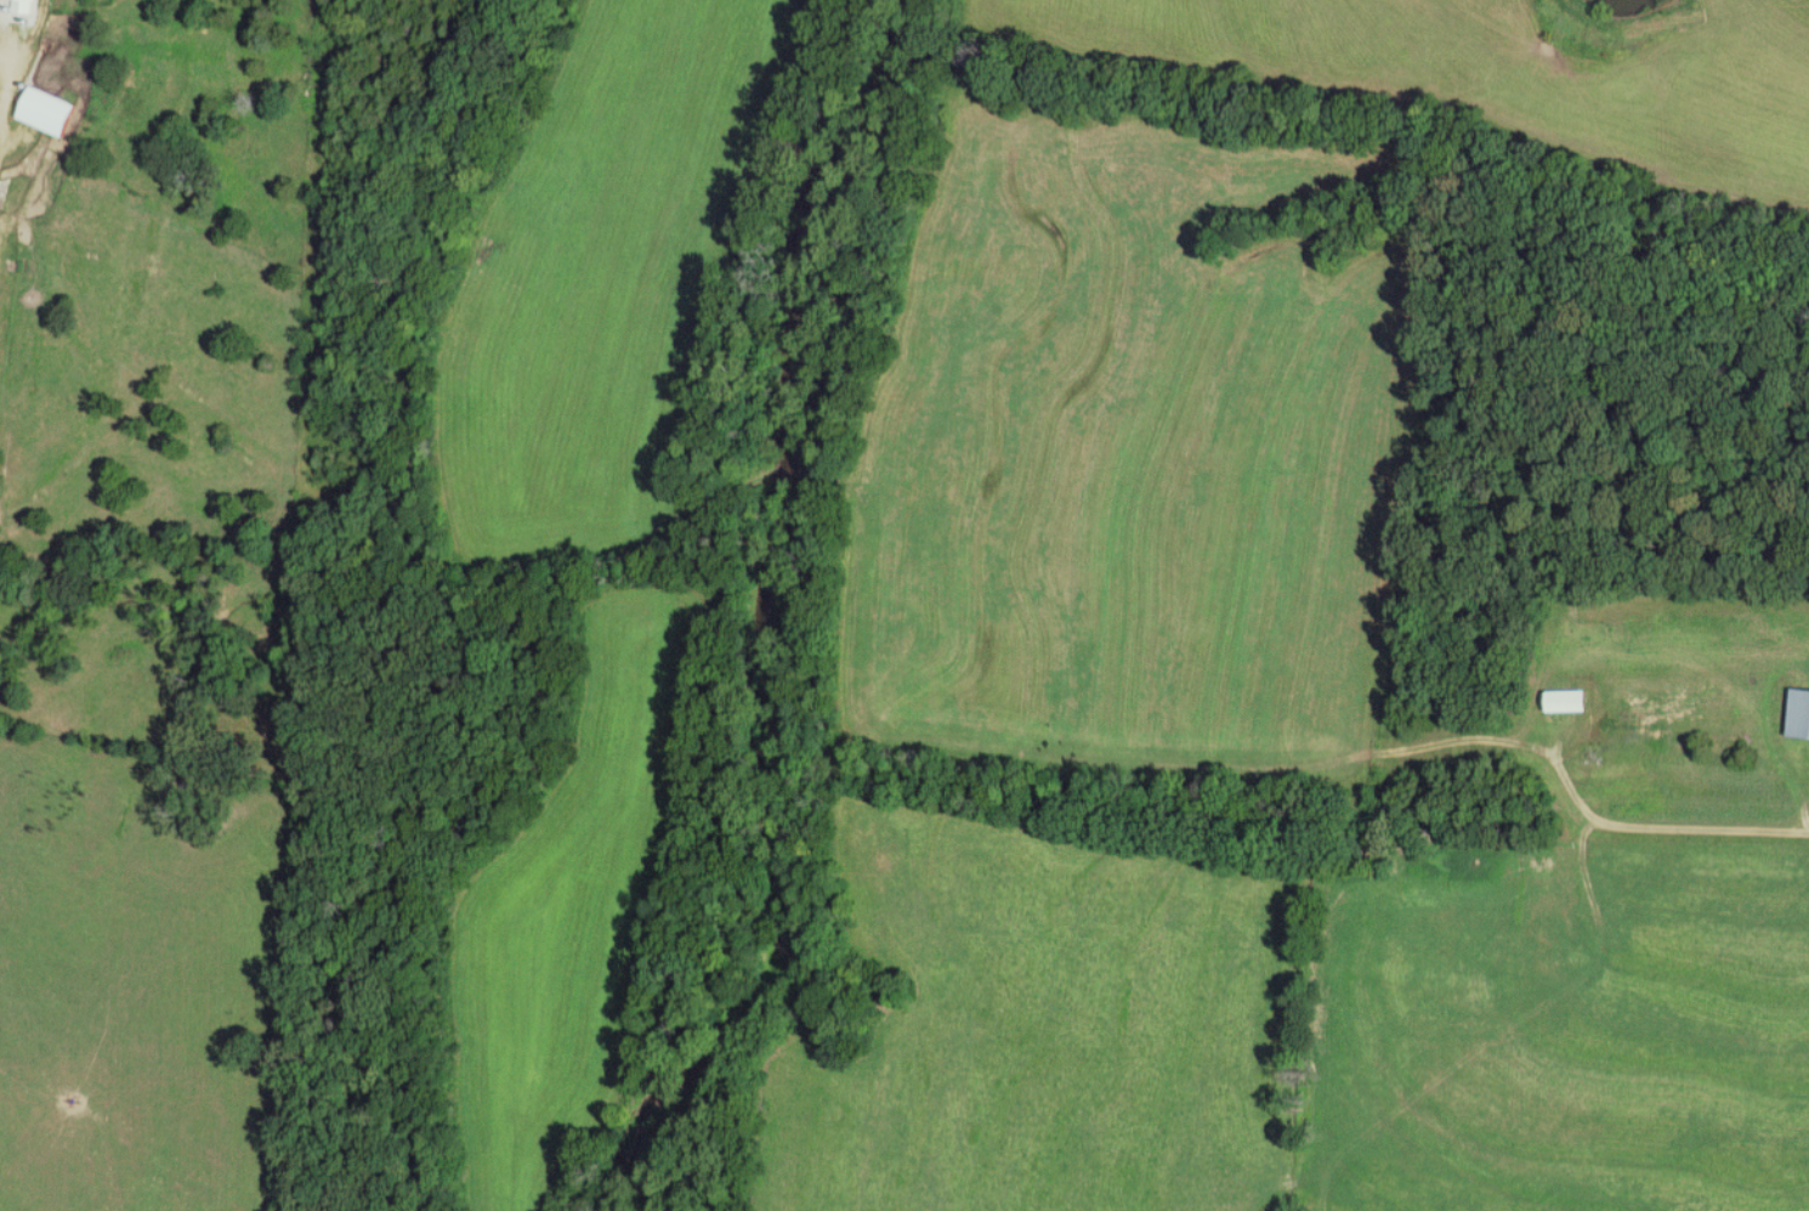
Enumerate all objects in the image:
building: (41, 7)
building: (47, 113)
building: (1565, 702)
building: (1798, 714)

